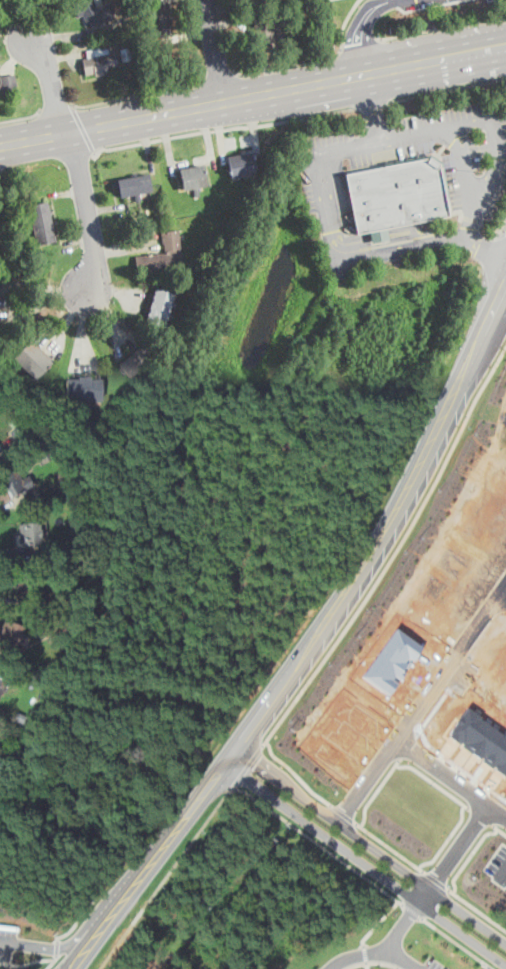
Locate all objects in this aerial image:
parking lot: (401, 1)
building: (94, 10)
building: (160, 18)
road: (344, 23)
road: (443, 27)
road: (360, 28)
building: (264, 35)
road: (361, 45)
road: (217, 49)
building: (100, 60)
road: (288, 65)
road: (221, 75)
road: (52, 78)
building: (8, 82)
road: (446, 88)
road: (138, 93)
road: (252, 94)
road: (371, 103)
road: (56, 106)
road: (376, 108)
road: (23, 117)
road: (222, 128)
road: (500, 150)
road: (75, 157)
building: (242, 162)
road: (30, 164)
building: (193, 175)
building: (134, 184)
building: (394, 194)
road: (88, 212)
building: (41, 221)
building: (0, 222)
road: (469, 223)
road: (491, 226)
road: (502, 230)
road: (486, 242)
building: (162, 253)
building: (161, 305)
road: (15, 308)
building: (33, 358)
building: (136, 360)
building: (85, 388)
building: (15, 482)
building: (33, 533)
building: (36, 562)
building: (33, 589)
road: (502, 591)
building: (11, 633)
road: (314, 641)
road: (313, 672)
building: (1, 683)
road: (420, 700)
road: (248, 769)
road: (449, 777)
road: (318, 843)
road: (371, 846)
road: (454, 853)
road: (366, 864)
road: (165, 879)
road: (413, 912)
road: (77, 922)
road: (378, 923)
parking lot: (7, 941)
road: (9, 943)
road: (456, 944)
road: (56, 948)
road: (58, 948)
road: (385, 950)
road: (365, 954)
road: (401, 960)
road: (53, 962)
road: (28, 963)
road: (384, 964)
parking lot: (434, 964)
road: (357, 965)
road: (367, 965)

